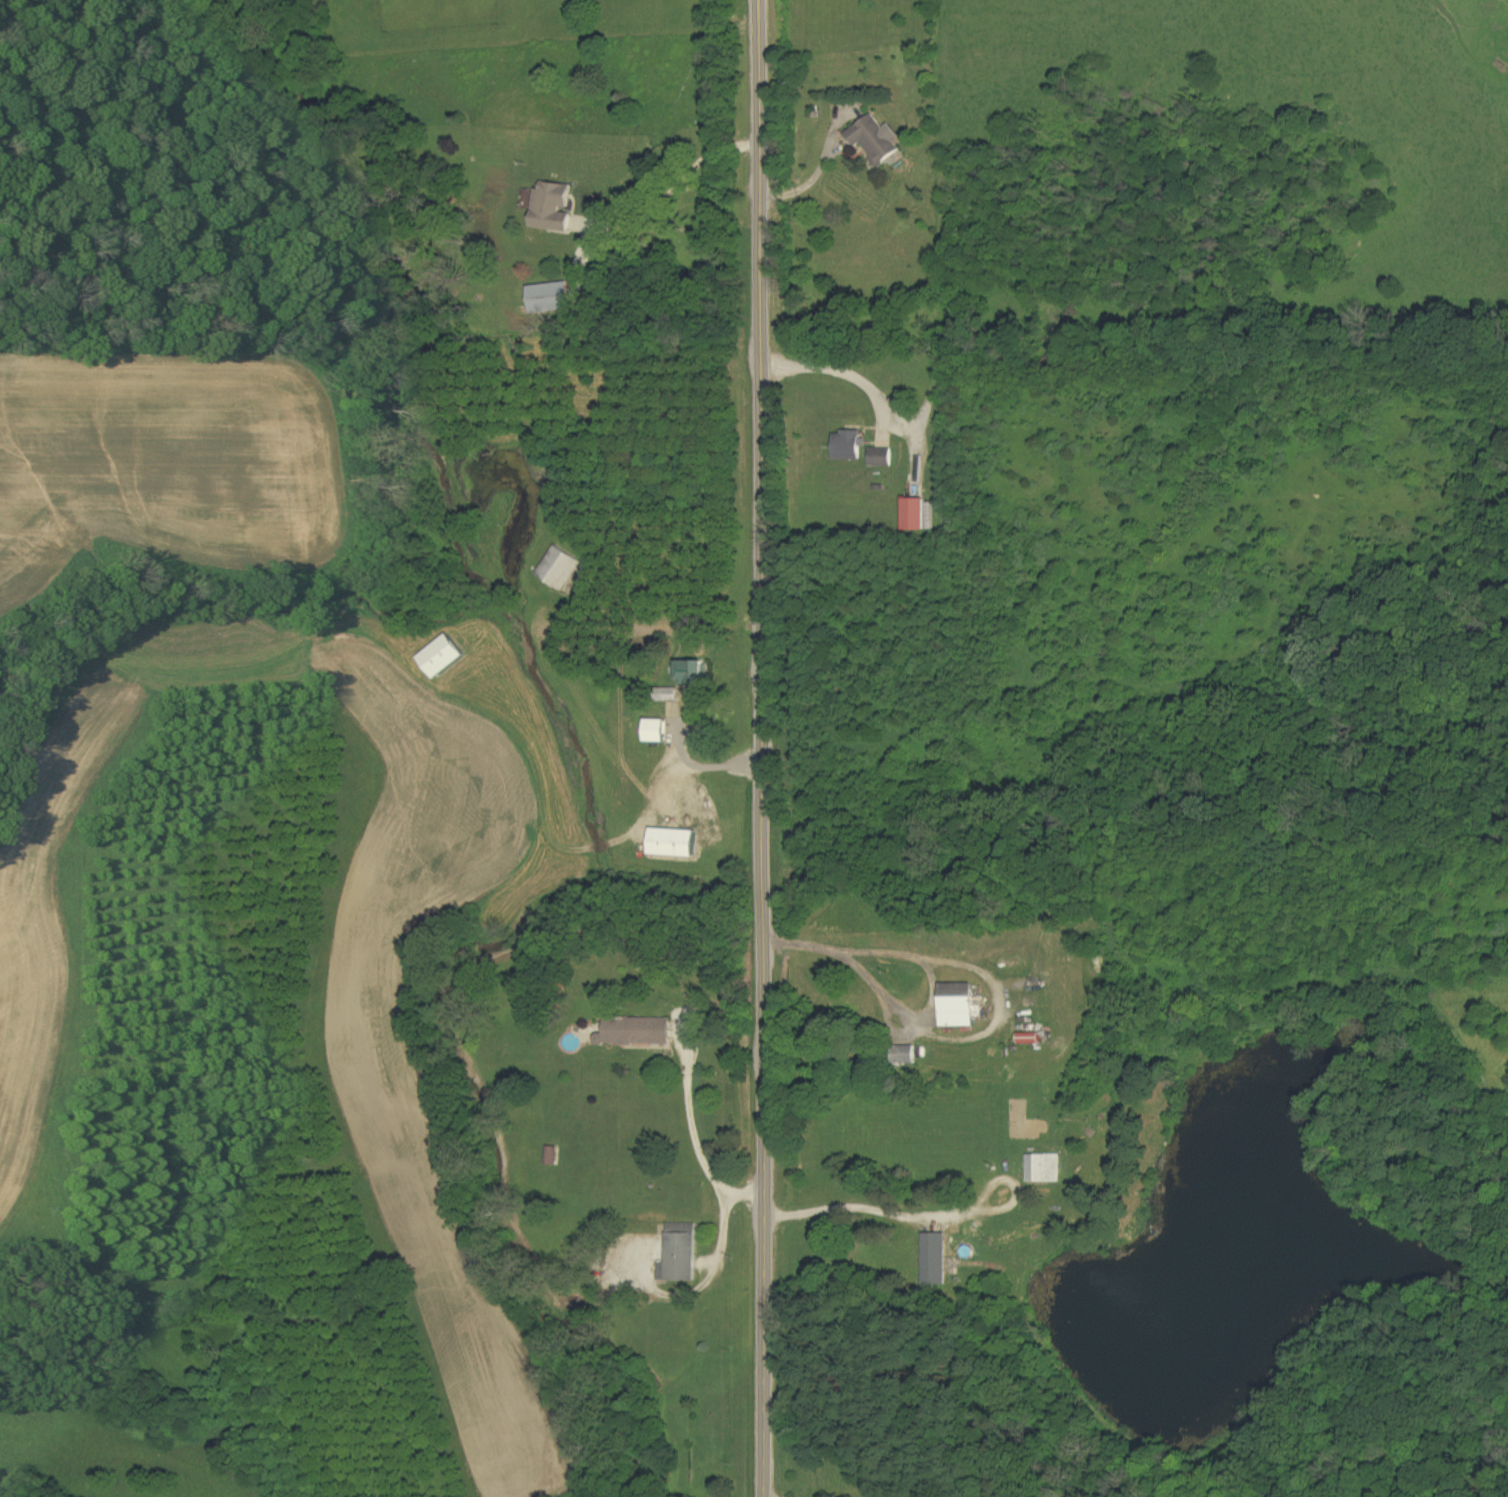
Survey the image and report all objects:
building: (876, 140)
building: (553, 207)
building: (551, 298)
road: (832, 366)
building: (849, 445)
building: (881, 457)
building: (916, 515)
building: (559, 568)
building: (443, 657)
building: (693, 673)
building: (670, 695)
building: (658, 731)
road: (759, 748)
building: (674, 843)
road: (923, 957)
building: (958, 1005)
building: (637, 1032)
building: (1031, 1038)
building: (907, 1055)
road: (689, 1129)
building: (1045, 1169)
road: (848, 1204)
building: (682, 1253)
building: (935, 1259)

